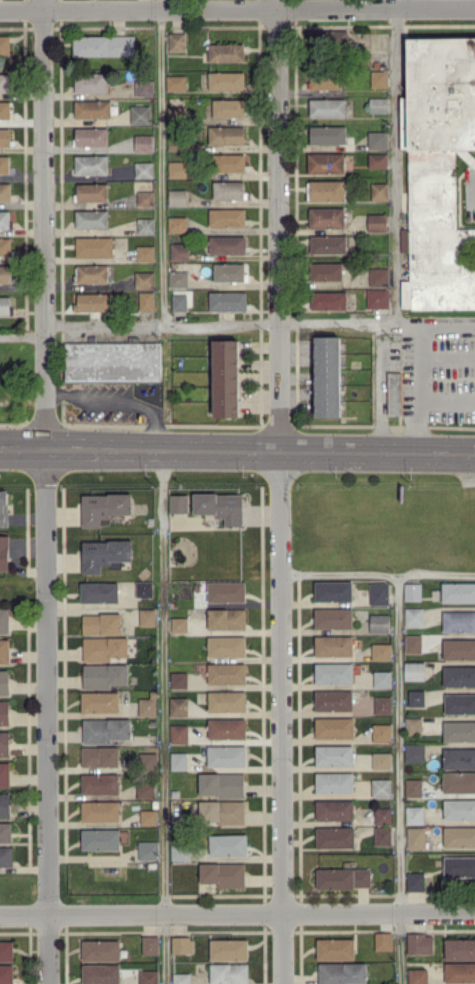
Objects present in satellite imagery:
road: (410, 4)
road: (237, 9)
building: (329, 38)
building: (176, 41)
building: (4, 43)
building: (103, 45)
building: (226, 52)
building: (379, 78)
building: (226, 80)
building: (325, 81)
building: (4, 82)
building: (90, 82)
building: (175, 82)
building: (144, 87)
building: (378, 104)
building: (228, 107)
building: (327, 107)
building: (92, 108)
building: (4, 109)
building: (176, 112)
building: (140, 114)
building: (327, 134)
building: (226, 135)
building: (5, 136)
building: (90, 136)
building: (377, 139)
building: (143, 142)
building: (377, 160)
road: (161, 162)
building: (229, 162)
building: (325, 162)
building: (4, 164)
building: (91, 164)
road: (396, 166)
building: (144, 169)
building: (177, 169)
building: (438, 171)
road: (473, 188)
building: (228, 189)
building: (326, 190)
building: (5, 191)
building: (92, 191)
building: (379, 191)
building: (177, 197)
building: (145, 198)
building: (227, 217)
building: (326, 217)
building: (5, 218)
building: (91, 218)
building: (377, 222)
road: (45, 223)
building: (177, 224)
road: (279, 224)
building: (145, 225)
building: (328, 243)
building: (227, 244)
building: (5, 246)
building: (94, 246)
building: (179, 251)
building: (145, 253)
building: (229, 271)
building: (326, 271)
building: (5, 273)
building: (92, 273)
building: (378, 276)
building: (178, 278)
building: (144, 279)
building: (377, 297)
building: (328, 299)
building: (147, 300)
building: (228, 300)
building: (92, 301)
building: (179, 301)
building: (4, 304)
road: (338, 322)
road: (407, 324)
road: (162, 325)
road: (23, 336)
building: (112, 359)
road: (419, 359)
road: (447, 359)
building: (327, 376)
building: (226, 377)
building: (394, 393)
road: (379, 394)
road: (447, 398)
road: (119, 400)
road: (237, 448)
building: (178, 503)
building: (104, 506)
building: (220, 506)
building: (3, 507)
building: (4, 553)
building: (104, 553)
road: (377, 573)
building: (144, 589)
building: (99, 591)
building: (226, 591)
building: (333, 591)
building: (412, 591)
building: (458, 592)
building: (378, 593)
building: (414, 616)
building: (147, 617)
building: (226, 618)
building: (333, 618)
building: (4, 620)
building: (458, 621)
building: (379, 622)
building: (101, 623)
building: (179, 624)
building: (413, 643)
building: (333, 645)
building: (226, 646)
building: (104, 648)
building: (459, 648)
building: (4, 650)
building: (381, 651)
building: (414, 670)
building: (333, 672)
building: (227, 673)
building: (104, 675)
building: (459, 676)
building: (178, 679)
building: (382, 679)
building: (4, 682)
road: (281, 682)
building: (416, 697)
building: (334, 700)
building: (100, 701)
building: (227, 701)
building: (460, 703)
building: (383, 705)
building: (147, 706)
building: (179, 706)
building: (4, 712)
road: (47, 716)
road: (163, 716)
building: (413, 724)
building: (334, 727)
building: (227, 728)
building: (106, 729)
building: (459, 730)
building: (381, 732)
building: (179, 733)
building: (4, 743)
building: (414, 752)
building: (334, 754)
building: (226, 755)
building: (100, 756)
building: (459, 758)
building: (147, 760)
building: (179, 760)
building: (381, 760)
building: (4, 774)
road: (396, 778)
building: (459, 781)
building: (334, 782)
building: (100, 783)
building: (221, 784)
building: (381, 787)
building: (413, 787)
building: (146, 789)
building: (4, 805)
building: (334, 809)
building: (459, 809)
building: (100, 810)
building: (221, 811)
building: (414, 814)
building: (382, 815)
building: (148, 816)
building: (5, 831)
building: (382, 835)
building: (459, 836)
building: (335, 837)
building: (416, 837)
building: (100, 839)
building: (228, 844)
building: (147, 849)
building: (180, 852)
building: (6, 856)
building: (459, 866)
building: (223, 874)
building: (343, 878)
building: (415, 881)
road: (237, 915)
building: (383, 940)
building: (419, 943)
building: (150, 944)
building: (182, 944)
building: (335, 948)
building: (459, 948)
building: (229, 949)
road: (282, 949)
building: (6, 950)
building: (101, 950)
building: (460, 971)
building: (100, 973)
building: (229, 973)
building: (342, 973)
building: (6, 974)
building: (417, 976)
building: (148, 977)
building: (181, 978)

